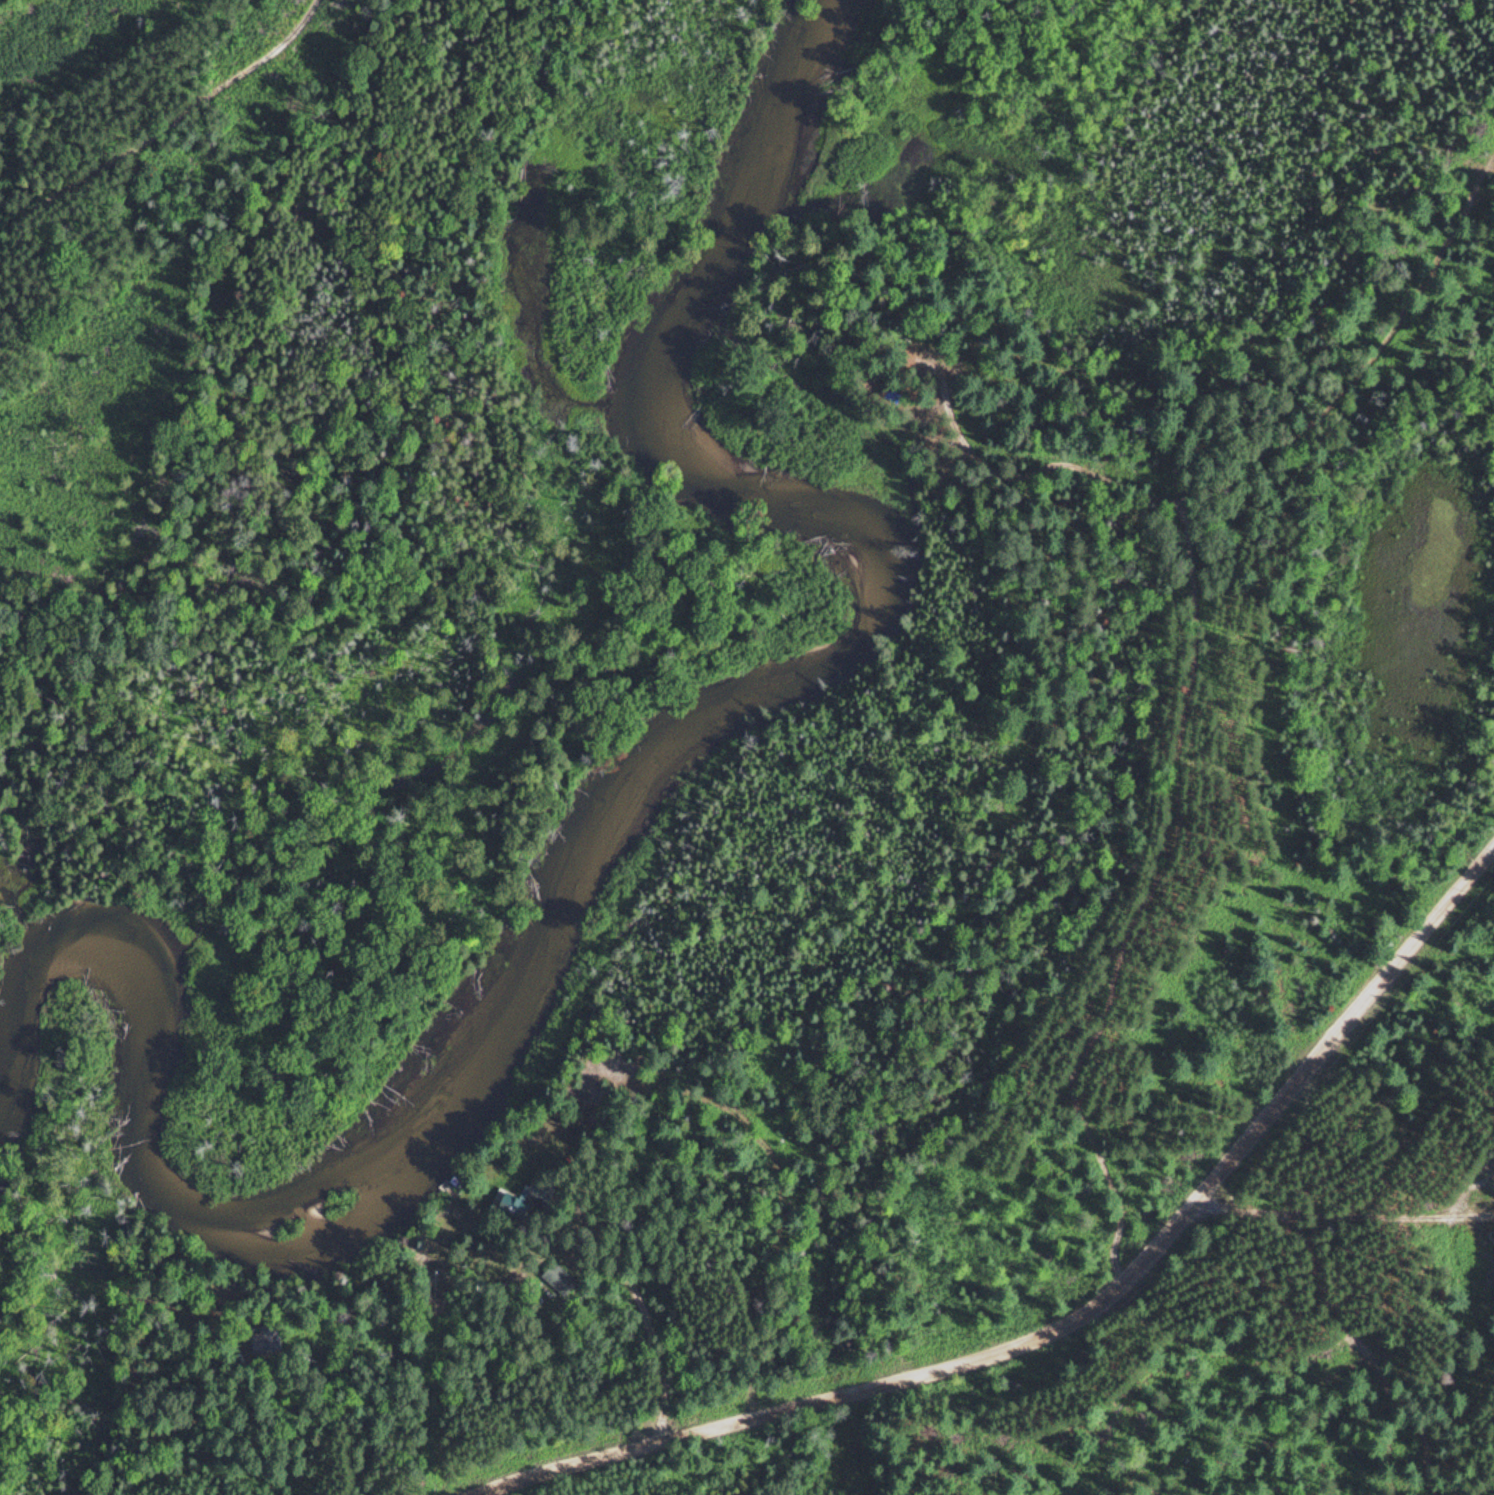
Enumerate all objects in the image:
road: (164, 119)
road: (1327, 368)
road: (1170, 813)
river: (604, 845)
building: (543, 1188)
building: (515, 1203)
building: (561, 1278)
road: (647, 1318)
road: (1072, 1319)
building: (269, 1340)

